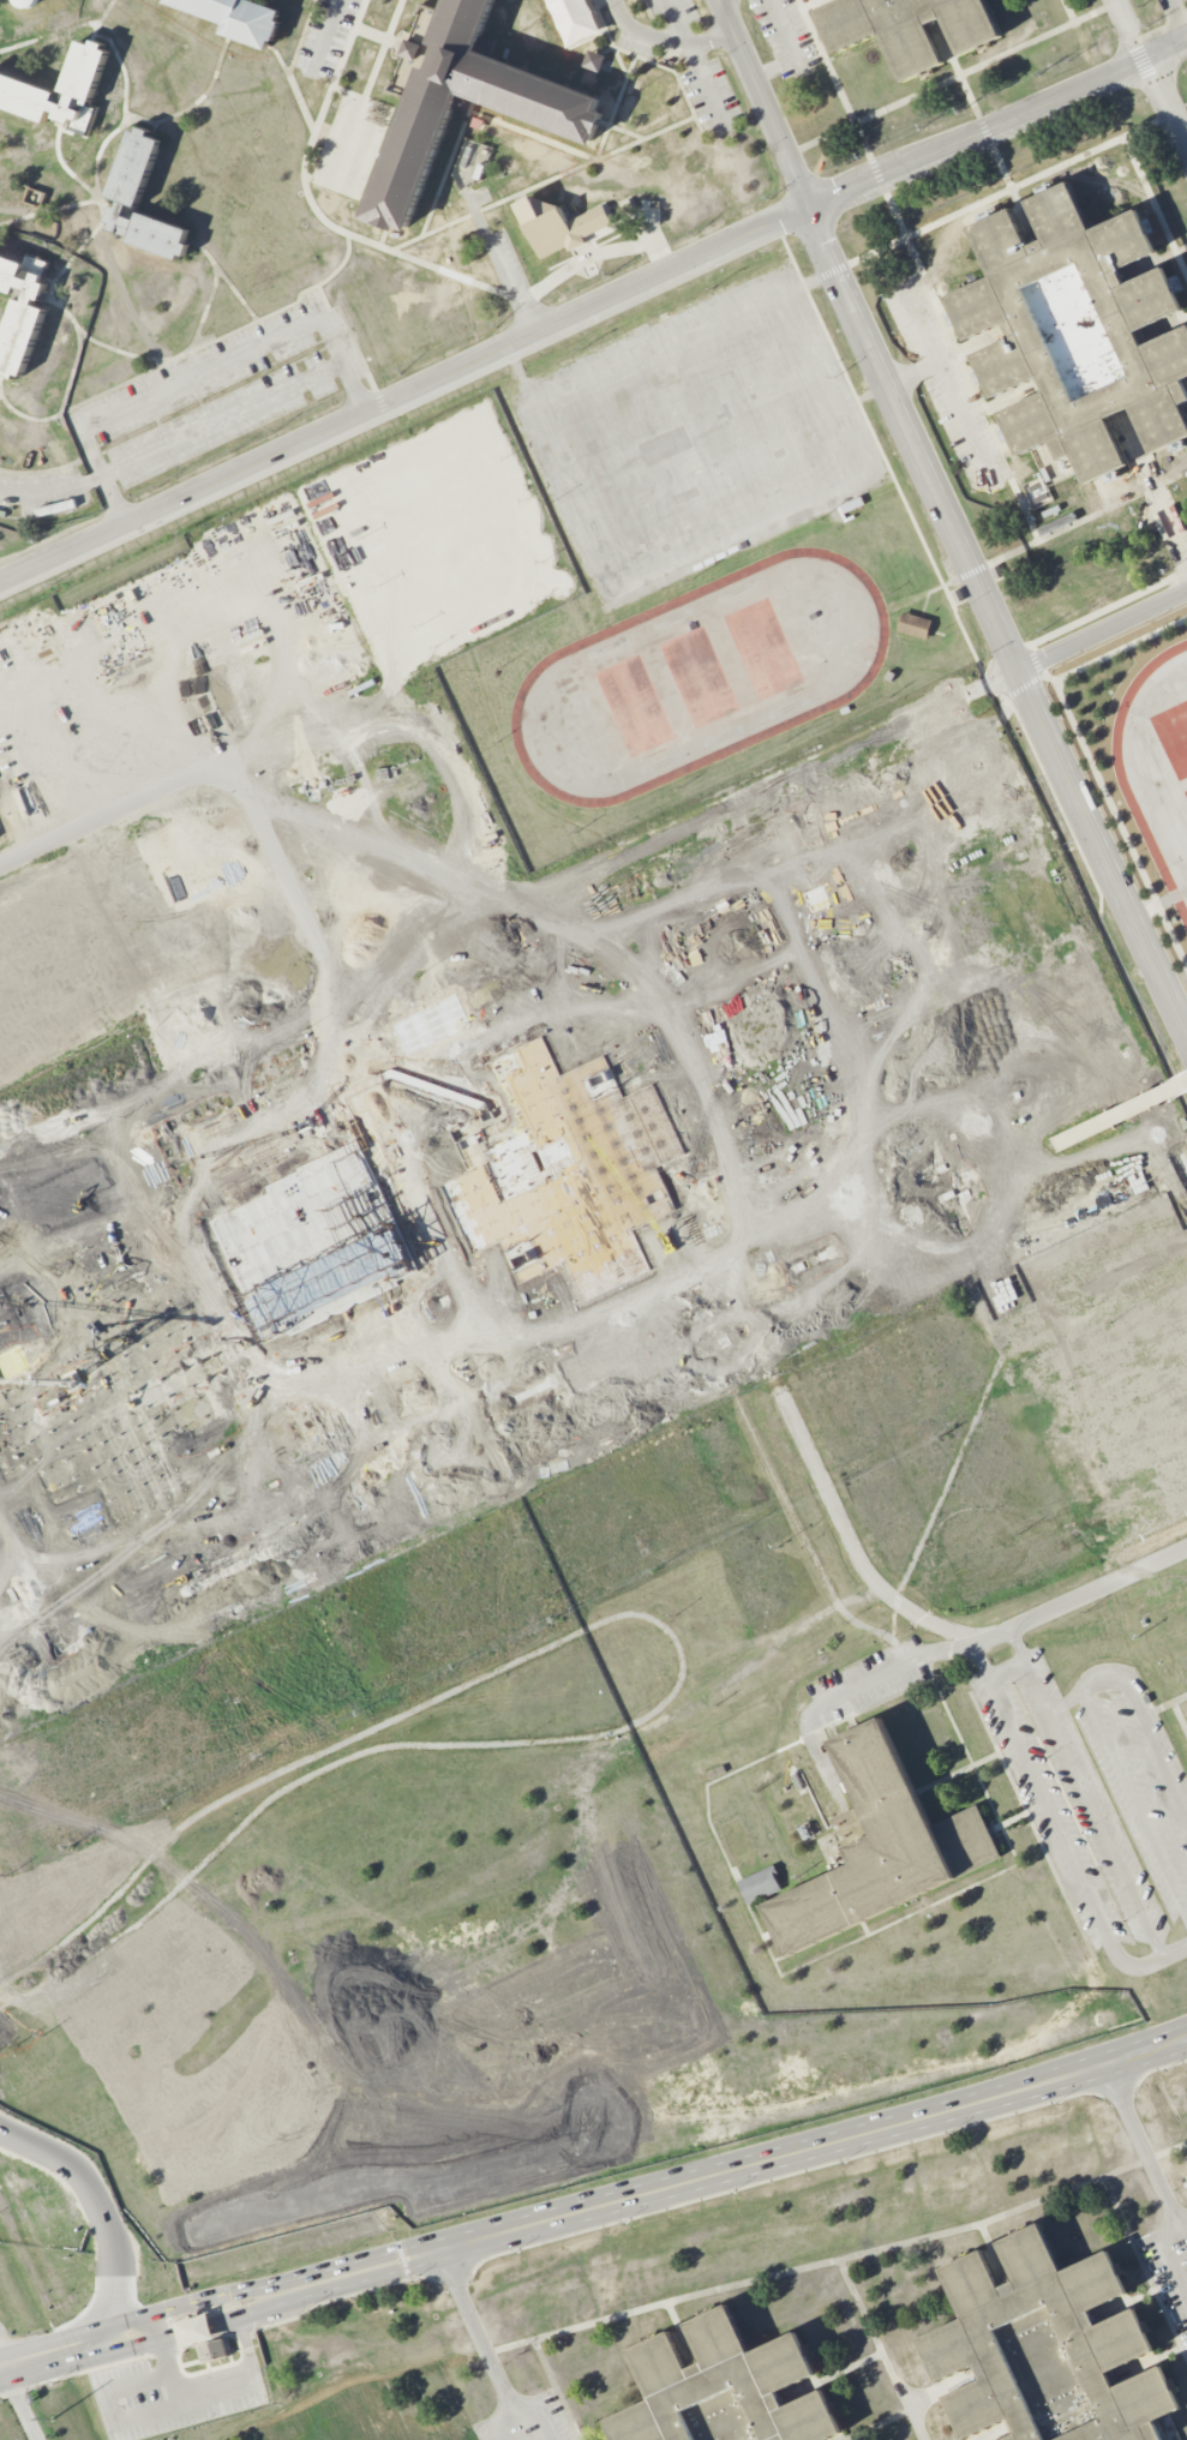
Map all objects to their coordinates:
building: (808, 0)
road: (1181, 16)
building: (239, 18)
road: (678, 18)
building: (906, 30)
road: (325, 31)
road: (669, 32)
road: (796, 50)
building: (594, 61)
road: (1151, 74)
building: (80, 83)
building: (462, 101)
road: (984, 127)
road: (1084, 156)
building: (134, 169)
building: (558, 226)
road: (877, 251)
road: (600, 256)
road: (505, 265)
road: (826, 274)
road: (592, 307)
building: (20, 316)
road: (946, 329)
building: (1074, 329)
road: (867, 335)
road: (928, 348)
road: (224, 361)
road: (961, 416)
road: (222, 420)
road: (1185, 438)
road: (883, 455)
road: (1152, 485)
road: (77, 486)
road: (1101, 490)
road: (1086, 516)
building: (996, 571)
road: (965, 574)
building: (958, 595)
road: (1108, 606)
building: (915, 625)
road: (1083, 639)
road: (1035, 659)
road: (1050, 677)
road: (987, 684)
road: (1025, 687)
road: (1003, 695)
road: (1089, 759)
parking lot: (1, 773)
road: (1101, 852)
building: (1044, 856)
building: (1015, 863)
building: (440, 870)
building: (1067, 880)
road: (1101, 913)
park: (1012, 1000)
road: (1119, 1113)
road: (1038, 1151)
road: (936, 1189)
road: (1048, 1203)
parking lot: (1015, 1242)
road: (1117, 1291)
building: (1162, 1375)
road: (939, 1500)
road: (1085, 1593)
road: (678, 1657)
road: (851, 1690)
road: (1065, 1702)
road: (1093, 1710)
road: (1086, 1792)
parking lot: (1099, 1800)
road: (1033, 1803)
road: (1007, 1821)
road: (1055, 1822)
building: (880, 1847)
building: (760, 1884)
road: (1175, 1950)
road: (1156, 2068)
road: (1122, 2097)
road: (687, 2114)
road: (1145, 2163)
road: (741, 2166)
road: (785, 2175)
road: (1156, 2176)
road: (1179, 2213)
parking lot: (1170, 2267)
road: (1144, 2268)
road: (458, 2286)
road: (239, 2291)
road: (346, 2294)
road: (666, 2302)
road: (1125, 2304)
road: (246, 2315)
road: (142, 2319)
road: (681, 2336)
road: (149, 2340)
road: (482, 2343)
road: (246, 2346)
road: (880, 2349)
building: (1047, 2349)
building: (214, 2350)
road: (7, 2354)
road: (52, 2358)
road: (1147, 2366)
road: (832, 2375)
road: (214, 2385)
road: (556, 2390)
building: (721, 2390)
parking lot: (169, 2394)
road: (454, 2403)
road: (20, 2405)
road: (112, 2405)
road: (532, 2411)
power tower: (52, 2418)
parking lot: (527, 2421)
road: (317, 2422)
road: (879, 2426)
building: (360, 2427)
road: (999, 2433)
building: (311, 2438)
building: (438, 2438)

